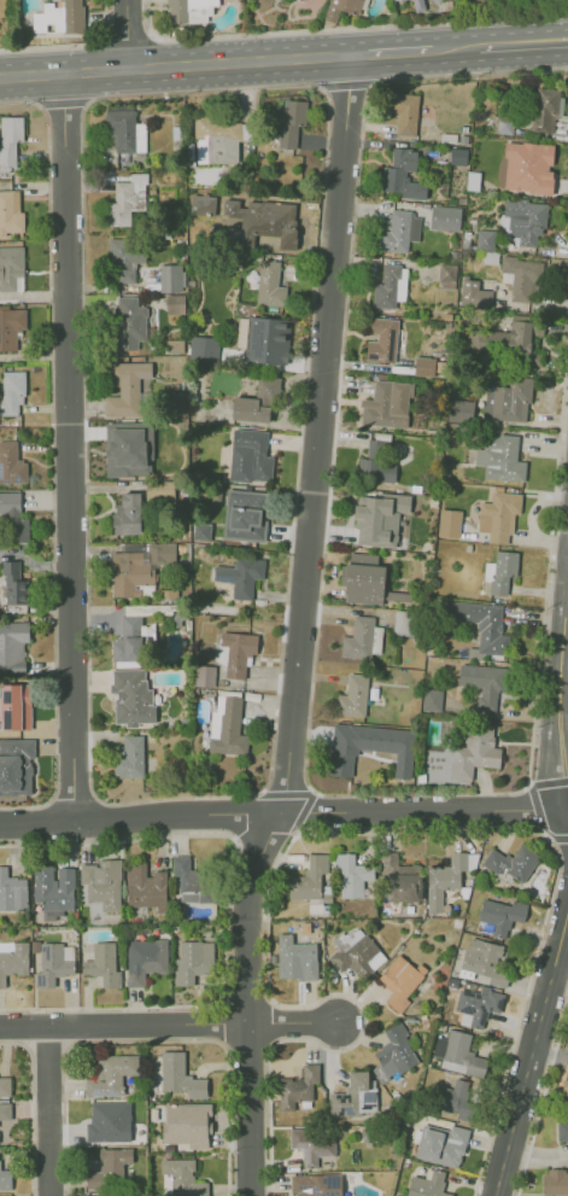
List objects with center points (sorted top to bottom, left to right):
building: (393, 0)
building: (417, 5)
building: (344, 7)
building: (189, 10)
building: (58, 17)
road: (340, 28)
road: (127, 34)
road: (556, 34)
road: (511, 42)
road: (455, 46)
road: (556, 48)
road: (391, 51)
road: (175, 65)
road: (345, 84)
road: (62, 103)
building: (545, 109)
building: (405, 113)
building: (291, 122)
building: (122, 126)
building: (219, 136)
building: (10, 139)
building: (457, 156)
building: (527, 167)
building: (402, 175)
building: (125, 199)
building: (10, 211)
building: (444, 217)
building: (277, 220)
building: (525, 220)
building: (399, 231)
building: (485, 239)
building: (125, 250)
building: (10, 267)
building: (446, 275)
building: (522, 276)
building: (170, 278)
building: (269, 285)
building: (388, 286)
building: (474, 293)
building: (175, 304)
building: (131, 315)
building: (10, 326)
building: (511, 337)
building: (267, 339)
building: (381, 339)
building: (175, 345)
building: (201, 351)
building: (423, 366)
building: (125, 386)
building: (11, 391)
building: (506, 399)
building: (257, 401)
building: (385, 404)
building: (459, 410)
road: (68, 445)
building: (128, 448)
building: (248, 456)
road: (51, 457)
building: (499, 457)
building: (11, 463)
building: (10, 501)
building: (127, 514)
building: (245, 515)
building: (498, 515)
building: (377, 518)
building: (449, 523)
building: (18, 530)
building: (200, 531)
building: (162, 553)
building: (500, 572)
building: (129, 573)
building: (241, 576)
building: (362, 579)
building: (13, 583)
building: (168, 594)
building: (402, 622)
building: (481, 624)
road: (299, 626)
building: (362, 638)
building: (133, 641)
building: (12, 642)
building: (236, 653)
road: (312, 671)
building: (204, 676)
building: (484, 681)
road: (560, 684)
building: (352, 696)
building: (133, 699)
building: (432, 699)
building: (19, 706)
building: (228, 730)
building: (369, 747)
building: (474, 753)
building: (127, 757)
building: (16, 765)
road: (270, 770)
road: (546, 783)
road: (285, 793)
road: (72, 800)
road: (537, 812)
road: (283, 813)
road: (300, 813)
road: (332, 829)
road: (557, 839)
building: (511, 862)
building: (350, 875)
building: (192, 877)
building: (308, 879)
building: (400, 880)
building: (101, 882)
building: (53, 887)
building: (145, 887)
building: (12, 891)
road: (226, 912)
building: (498, 916)
building: (356, 952)
building: (295, 957)
building: (145, 959)
building: (484, 959)
building: (13, 961)
building: (191, 963)
building: (103, 964)
building: (51, 965)
building: (399, 980)
road: (558, 981)
building: (476, 1005)
road: (297, 1023)
road: (125, 1026)
road: (147, 1040)
building: (394, 1051)
road: (549, 1051)
building: (458, 1054)
road: (529, 1054)
building: (111, 1074)
building: (180, 1075)
building: (5, 1085)
building: (298, 1086)
building: (566, 1093)
building: (353, 1096)
building: (456, 1096)
road: (543, 1097)
road: (30, 1108)
building: (5, 1110)
road: (48, 1112)
building: (109, 1120)
building: (186, 1125)
building: (562, 1130)
building: (312, 1144)
building: (440, 1144)
road: (535, 1156)
building: (109, 1167)
building: (5, 1178)
building: (183, 1178)
building: (554, 1182)
building: (427, 1184)
building: (95, 1195)

